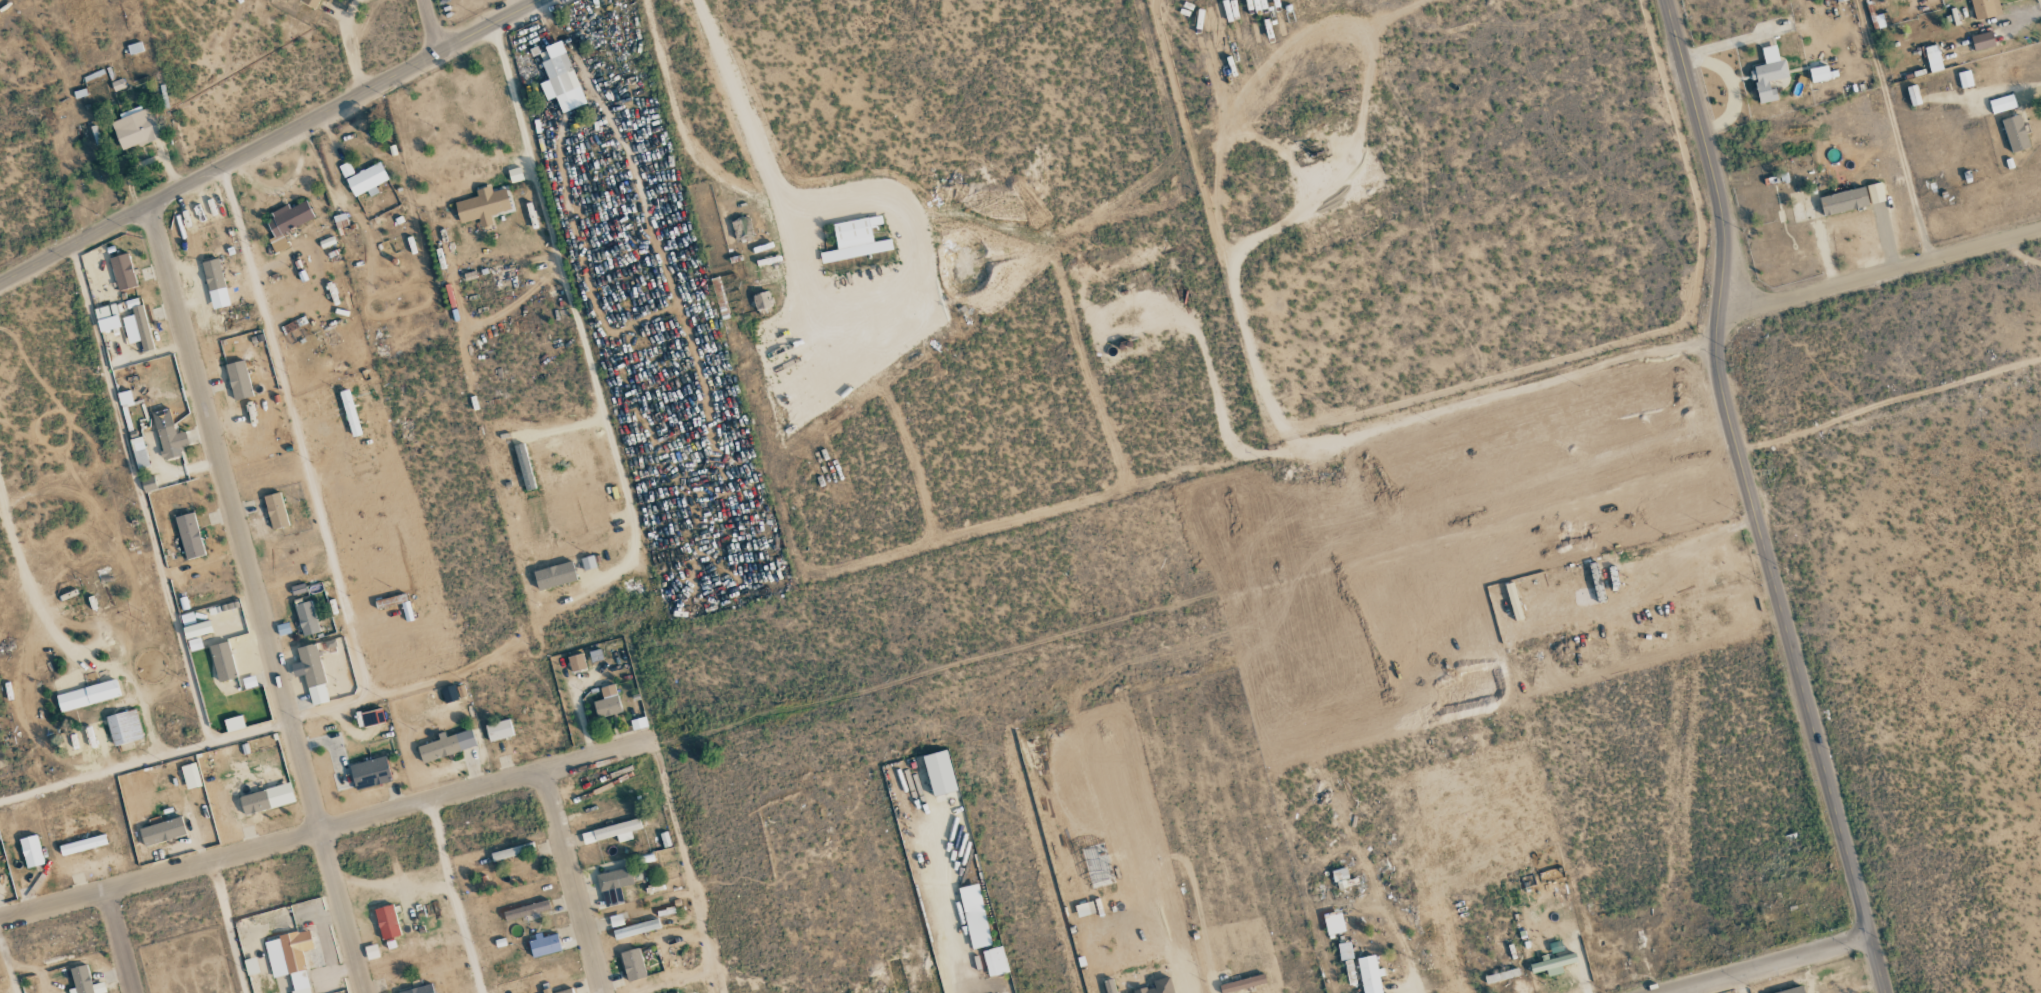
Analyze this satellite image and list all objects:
building: (1839, 0)
building: (312, 3)
building: (1985, 8)
road: (430, 26)
building: (1982, 41)
building: (1933, 58)
building: (557, 72)
building: (1768, 74)
building: (1820, 74)
building: (1964, 79)
building: (1913, 95)
building: (2002, 104)
building: (136, 129)
building: (2015, 133)
road: (270, 141)
building: (366, 180)
building: (1875, 193)
building: (1843, 201)
building: (482, 206)
building: (285, 225)
building: (742, 230)
building: (855, 240)
building: (122, 271)
road: (1875, 272)
road: (562, 275)
building: (215, 284)
building: (761, 300)
building: (101, 312)
building: (142, 327)
building: (238, 380)
building: (124, 398)
building: (171, 441)
building: (139, 452)
building: (524, 467)
road: (1747, 467)
road: (308, 468)
building: (275, 510)
building: (189, 536)
building: (588, 563)
building: (554, 576)
road: (256, 598)
building: (1513, 601)
building: (306, 618)
building: (189, 625)
building: (222, 661)
building: (576, 662)
building: (312, 673)
building: (87, 695)
building: (607, 702)
building: (370, 718)
building: (233, 723)
building: (123, 727)
building: (498, 730)
building: (446, 745)
building: (370, 773)
building: (190, 776)
building: (266, 799)
road: (327, 829)
building: (161, 831)
building: (612, 831)
building: (82, 845)
building: (30, 851)
building: (512, 851)
building: (1341, 877)
road: (574, 881)
building: (613, 885)
road: (948, 903)
building: (526, 909)
building: (974, 916)
building: (386, 921)
building: (1333, 922)
building: (636, 928)
road: (120, 942)
building: (1344, 950)
building: (371, 951)
building: (289, 958)
building: (995, 961)
building: (1552, 962)
road: (1761, 962)
road: (1879, 962)
building: (632, 964)
building: (250, 966)
building: (1348, 968)
building: (1369, 974)
building: (1501, 975)
building: (83, 981)
building: (1242, 983)
building: (419, 989)
building: (1791, 990)
building: (561, 991)

